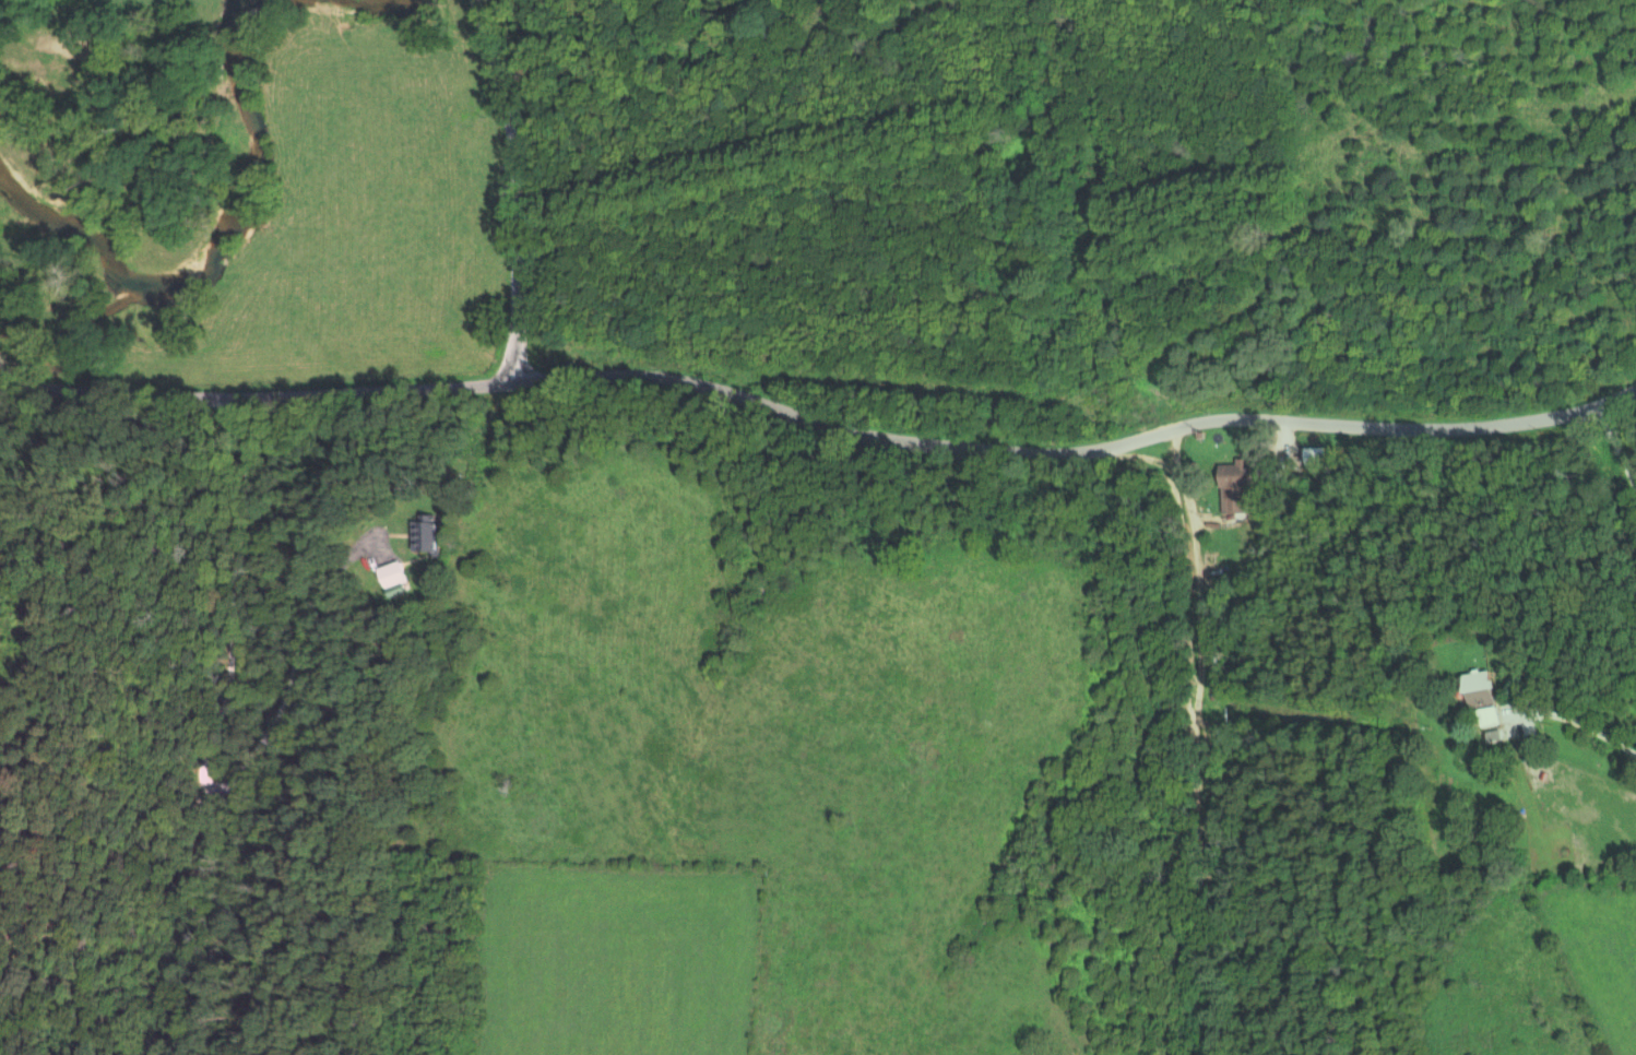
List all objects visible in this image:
road: (512, 182)
road: (821, 417)
road: (1283, 427)
road: (1615, 429)
building: (1237, 488)
building: (428, 535)
building: (392, 574)
road: (1529, 668)
building: (1484, 688)
road: (213, 691)
road: (1202, 719)
road: (1594, 731)

